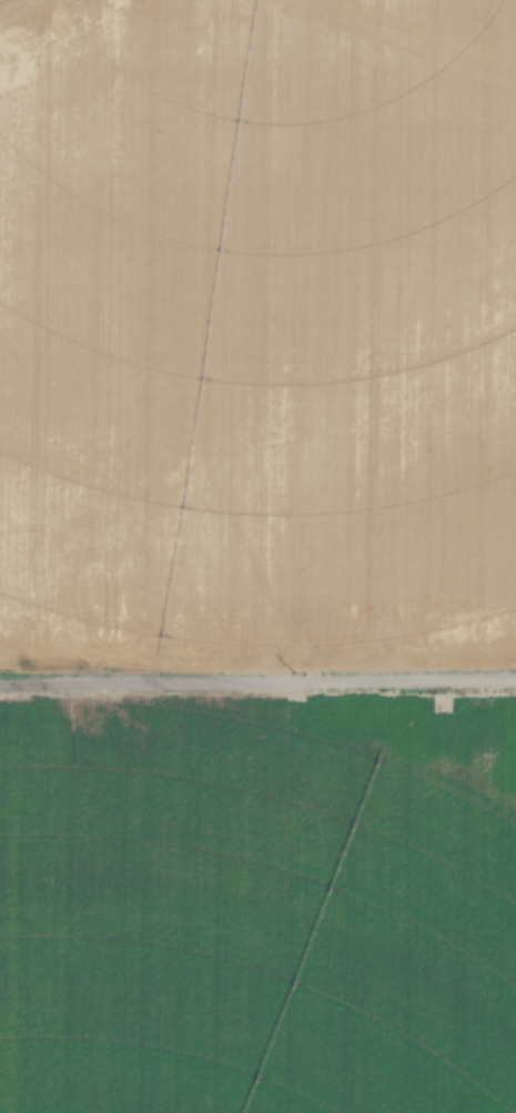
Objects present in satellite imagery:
road: (257, 678)

